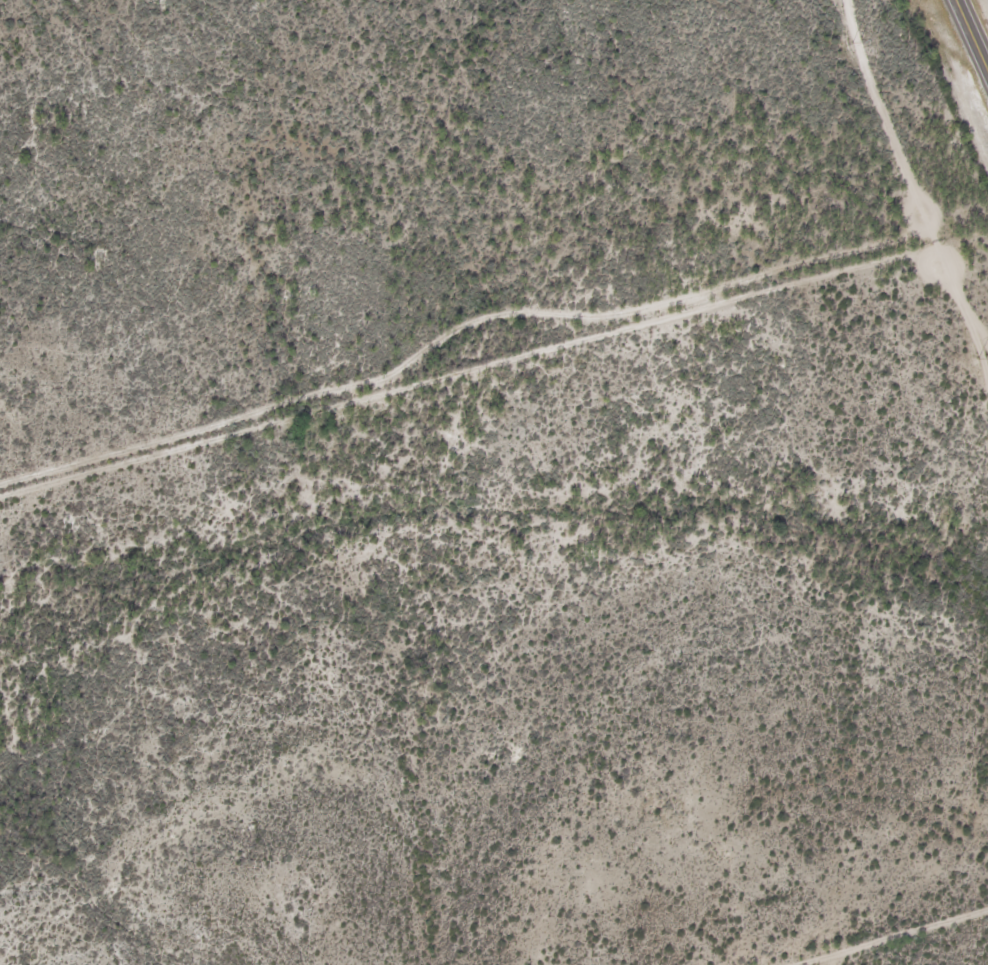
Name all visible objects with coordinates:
road: (972, 33)
power tower: (855, 42)
power tower: (981, 359)
road: (895, 940)

